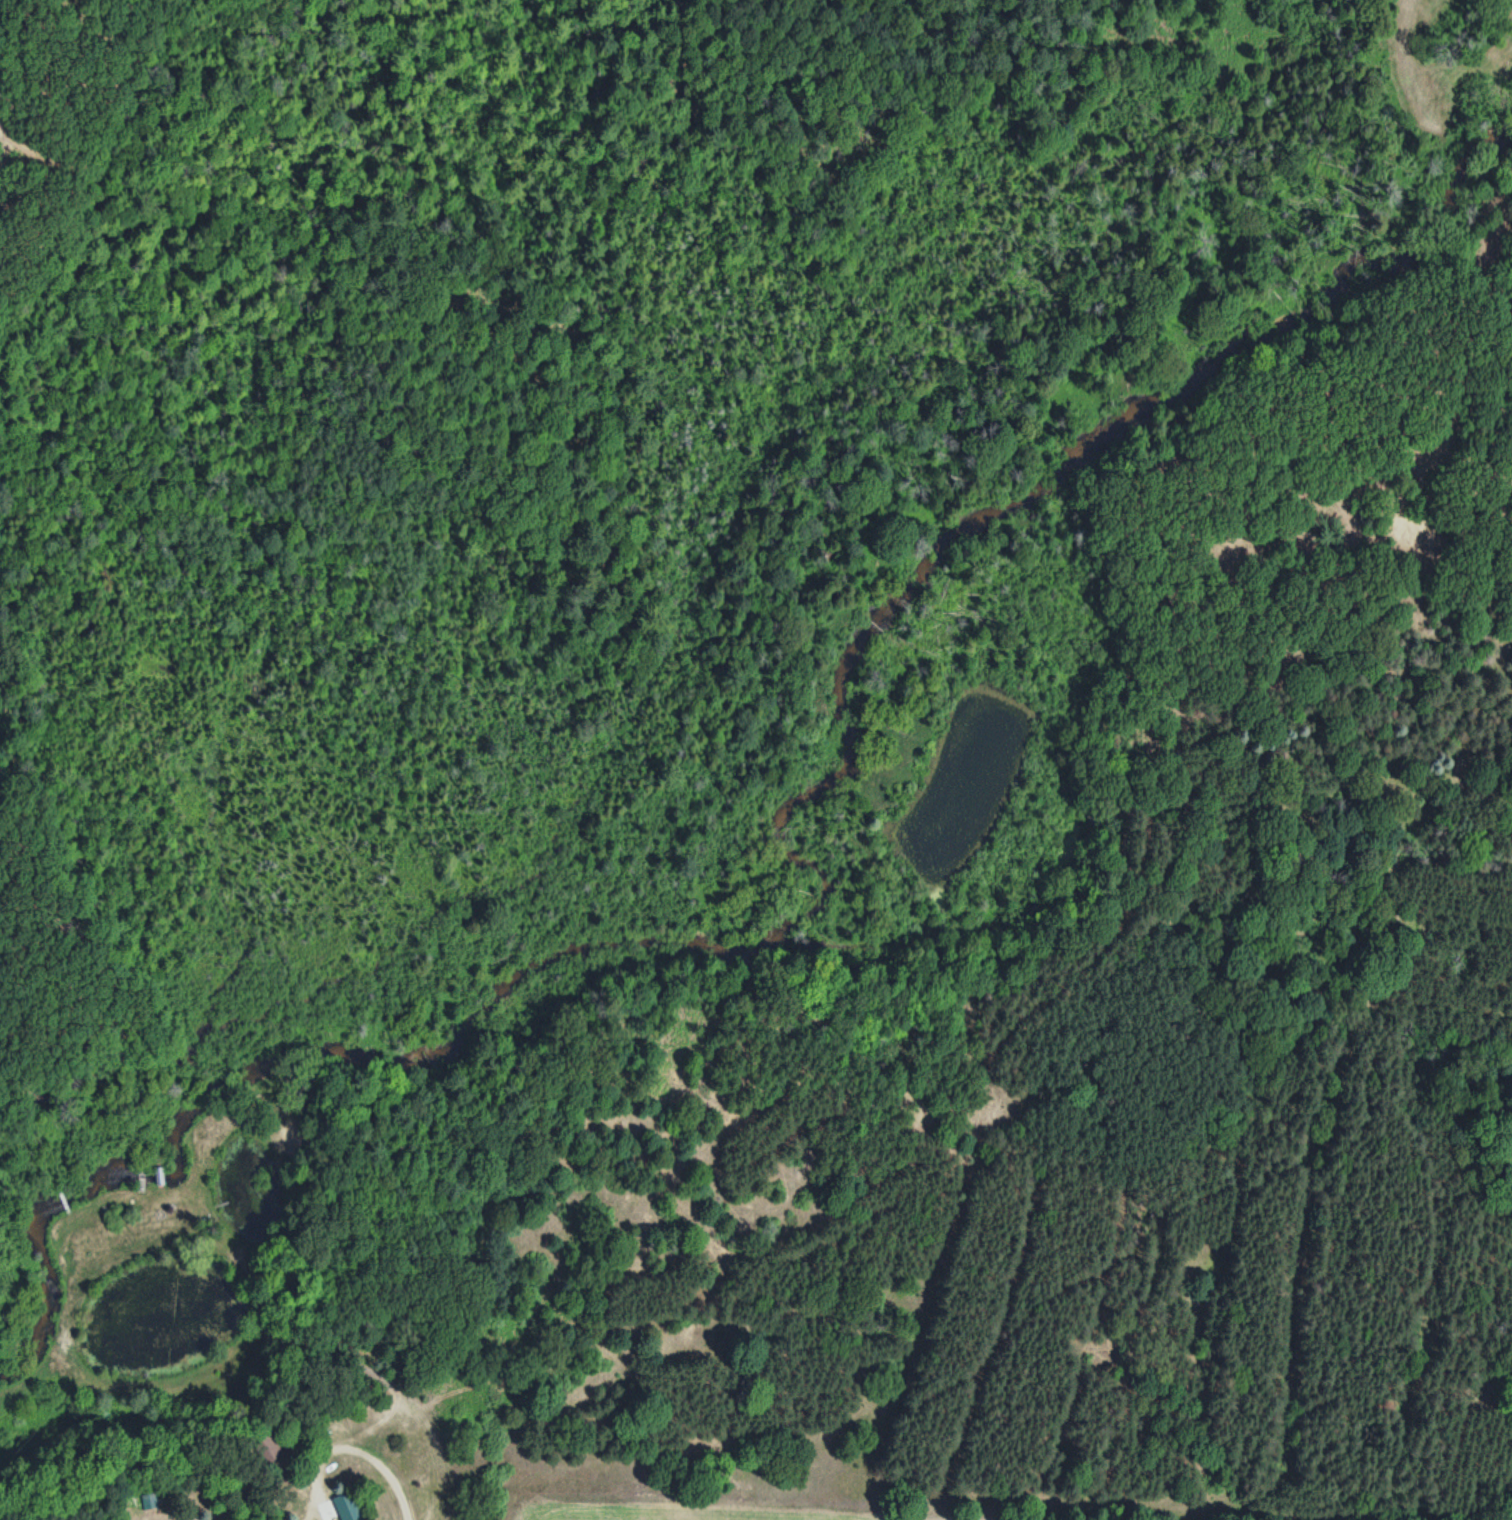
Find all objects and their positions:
river: (806, 860)
road: (433, 1428)
building: (260, 1444)
road: (352, 1476)
road: (437, 1505)

